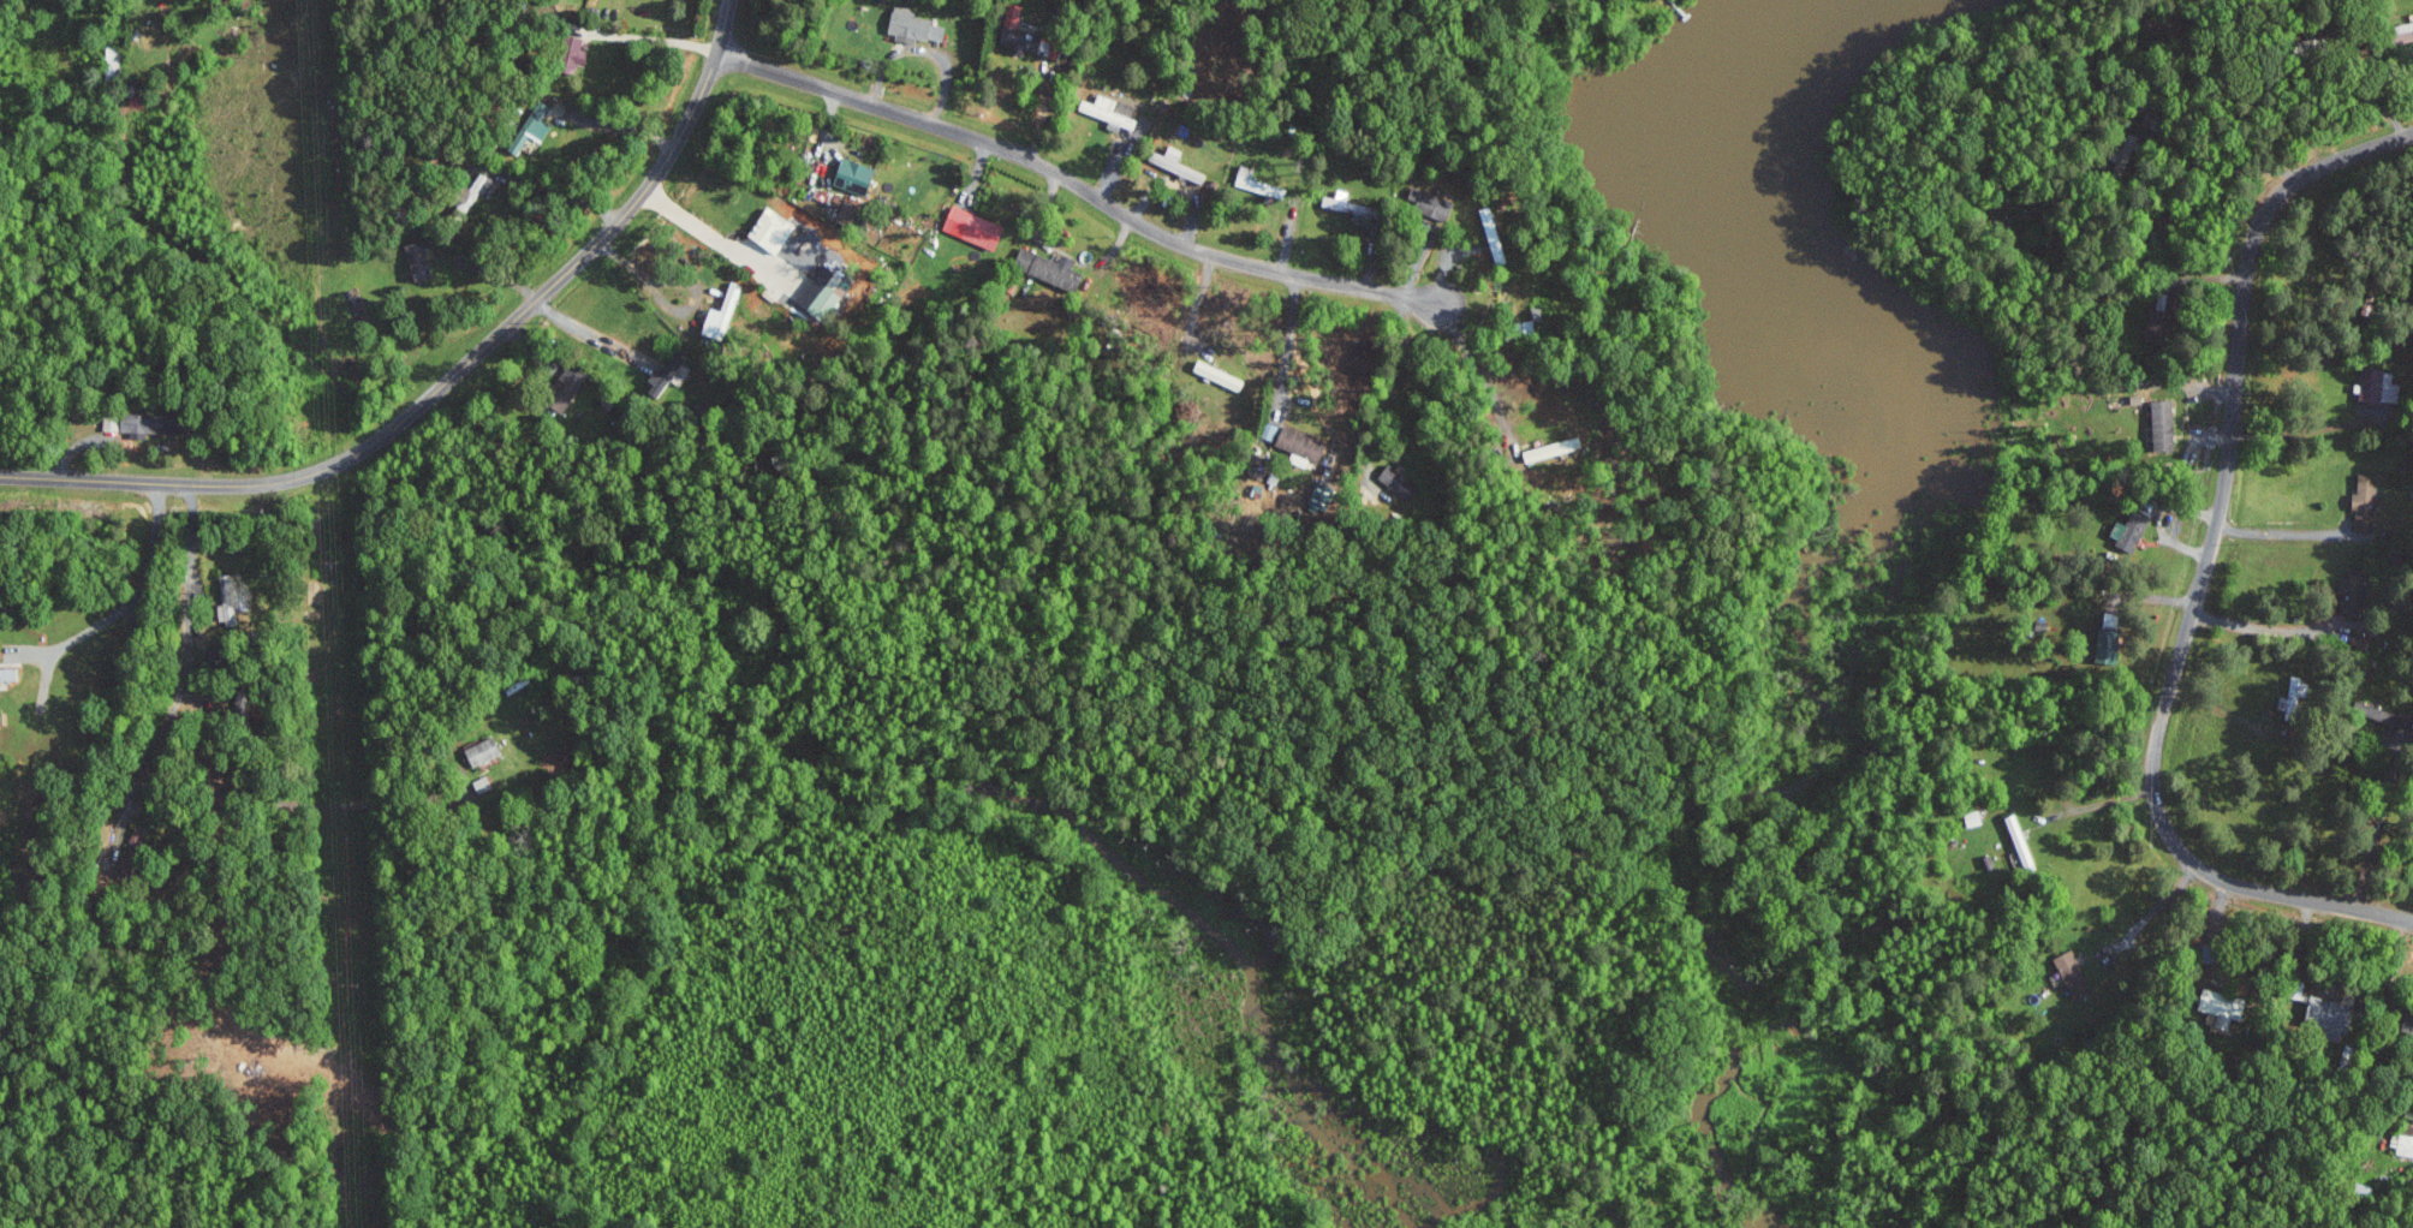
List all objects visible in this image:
building: (913, 26)
building: (1019, 32)
building: (2406, 34)
road: (645, 38)
building: (574, 54)
building: (1112, 111)
road: (618, 125)
building: (532, 127)
building: (856, 177)
building: (1253, 181)
road: (1077, 185)
road: (552, 187)
building: (475, 192)
building: (1430, 204)
building: (1353, 208)
building: (975, 227)
building: (773, 231)
road: (710, 238)
road: (1062, 254)
building: (419, 260)
building: (1049, 268)
road: (487, 270)
road: (1446, 273)
building: (829, 297)
road: (671, 311)
building: (722, 316)
road: (596, 335)
road: (1288, 342)
road: (1477, 365)
road: (448, 377)
building: (663, 377)
building: (1223, 377)
building: (2379, 385)
building: (562, 392)
road: (1388, 394)
building: (112, 422)
building: (148, 423)
building: (2163, 424)
building: (1270, 430)
building: (1301, 443)
building: (1544, 451)
building: (1399, 481)
building: (2367, 501)
building: (2131, 530)
road: (2283, 532)
power tower: (333, 562)
road: (2203, 573)
building: (2357, 588)
road: (126, 604)
road: (187, 625)
road: (2269, 628)
building: (2109, 638)
building: (8, 673)
building: (2294, 697)
road: (2228, 713)
road: (162, 728)
building: (484, 750)
road: (336, 806)
road: (2376, 829)
building: (136, 840)
road: (2151, 911)
building: (2074, 973)
power tower: (348, 985)
building: (2222, 1006)
building: (2328, 1014)
building: (2408, 1021)
building: (2402, 1144)

